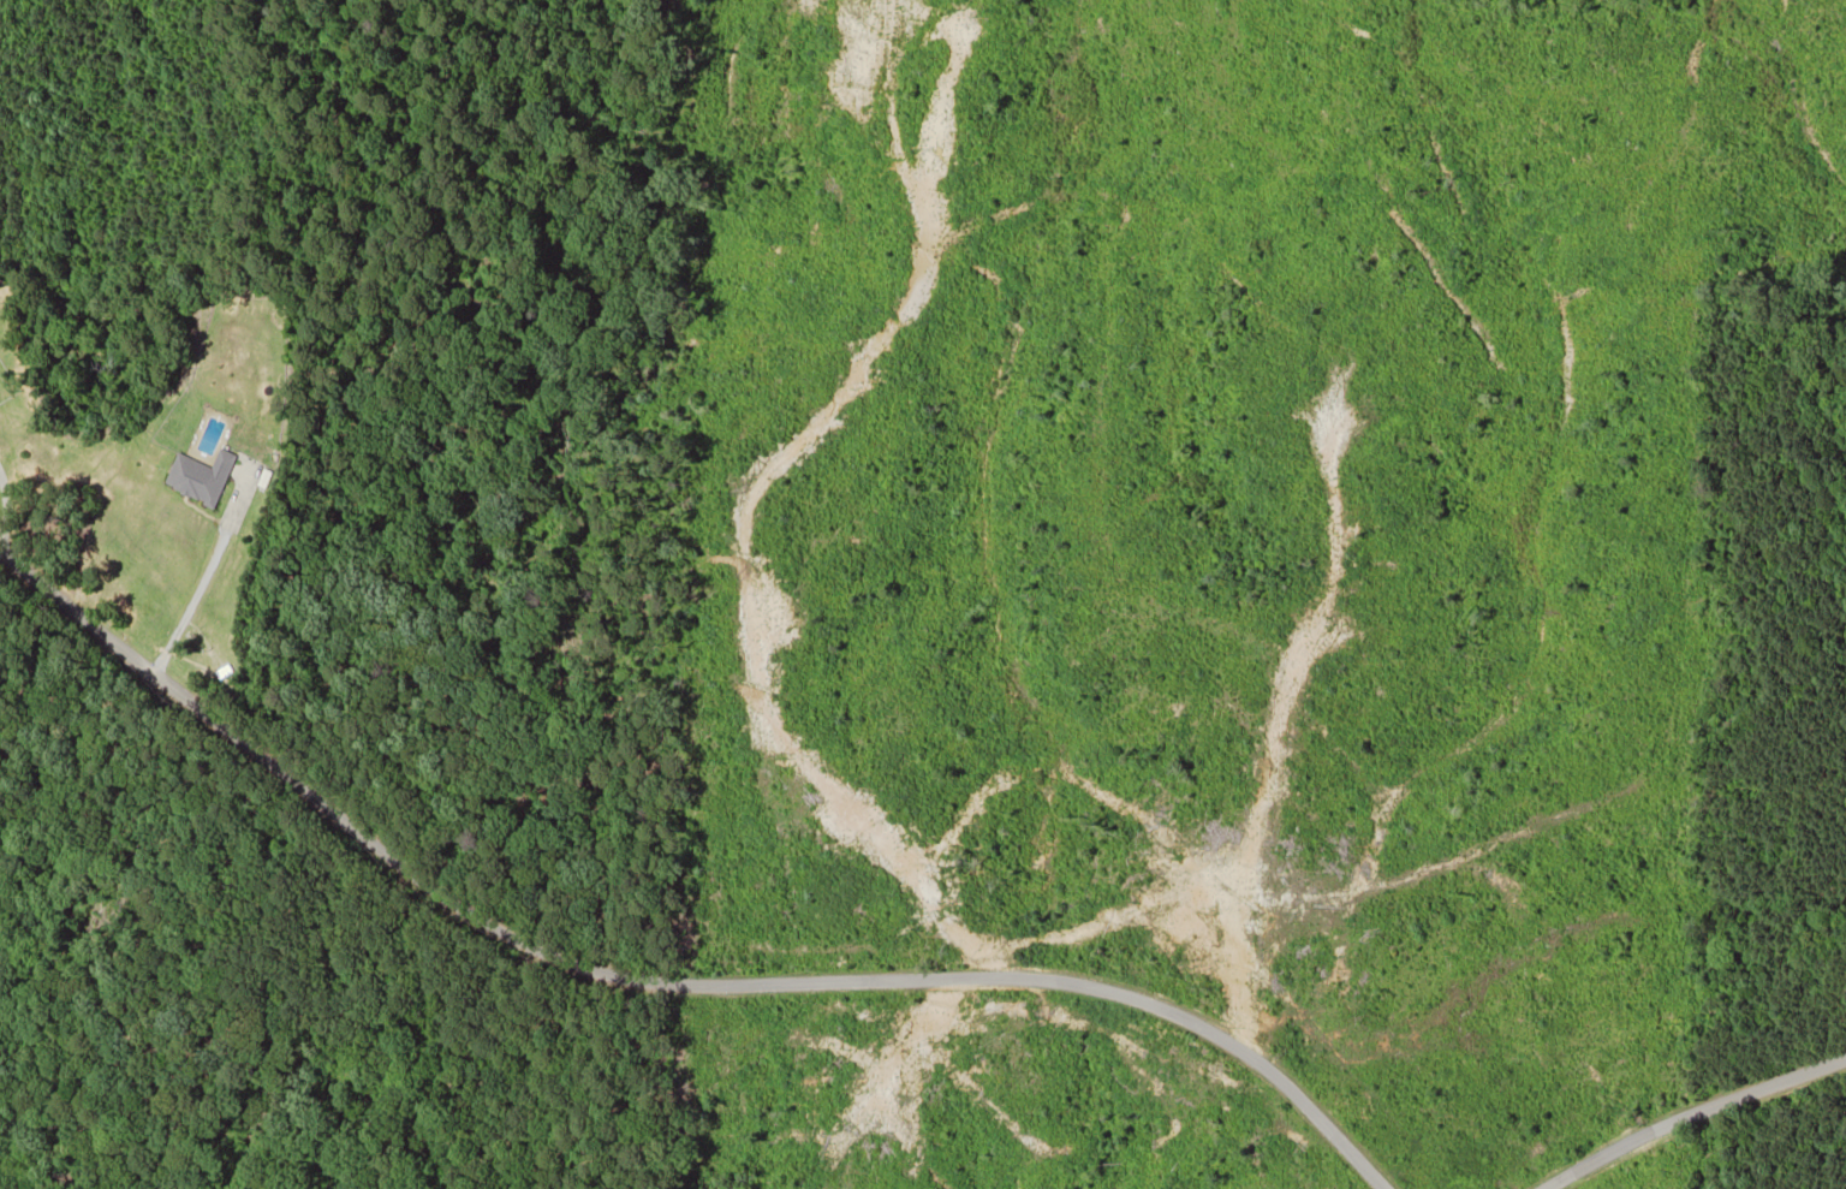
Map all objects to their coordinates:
building: (201, 476)
road: (655, 983)
road: (1741, 1132)

